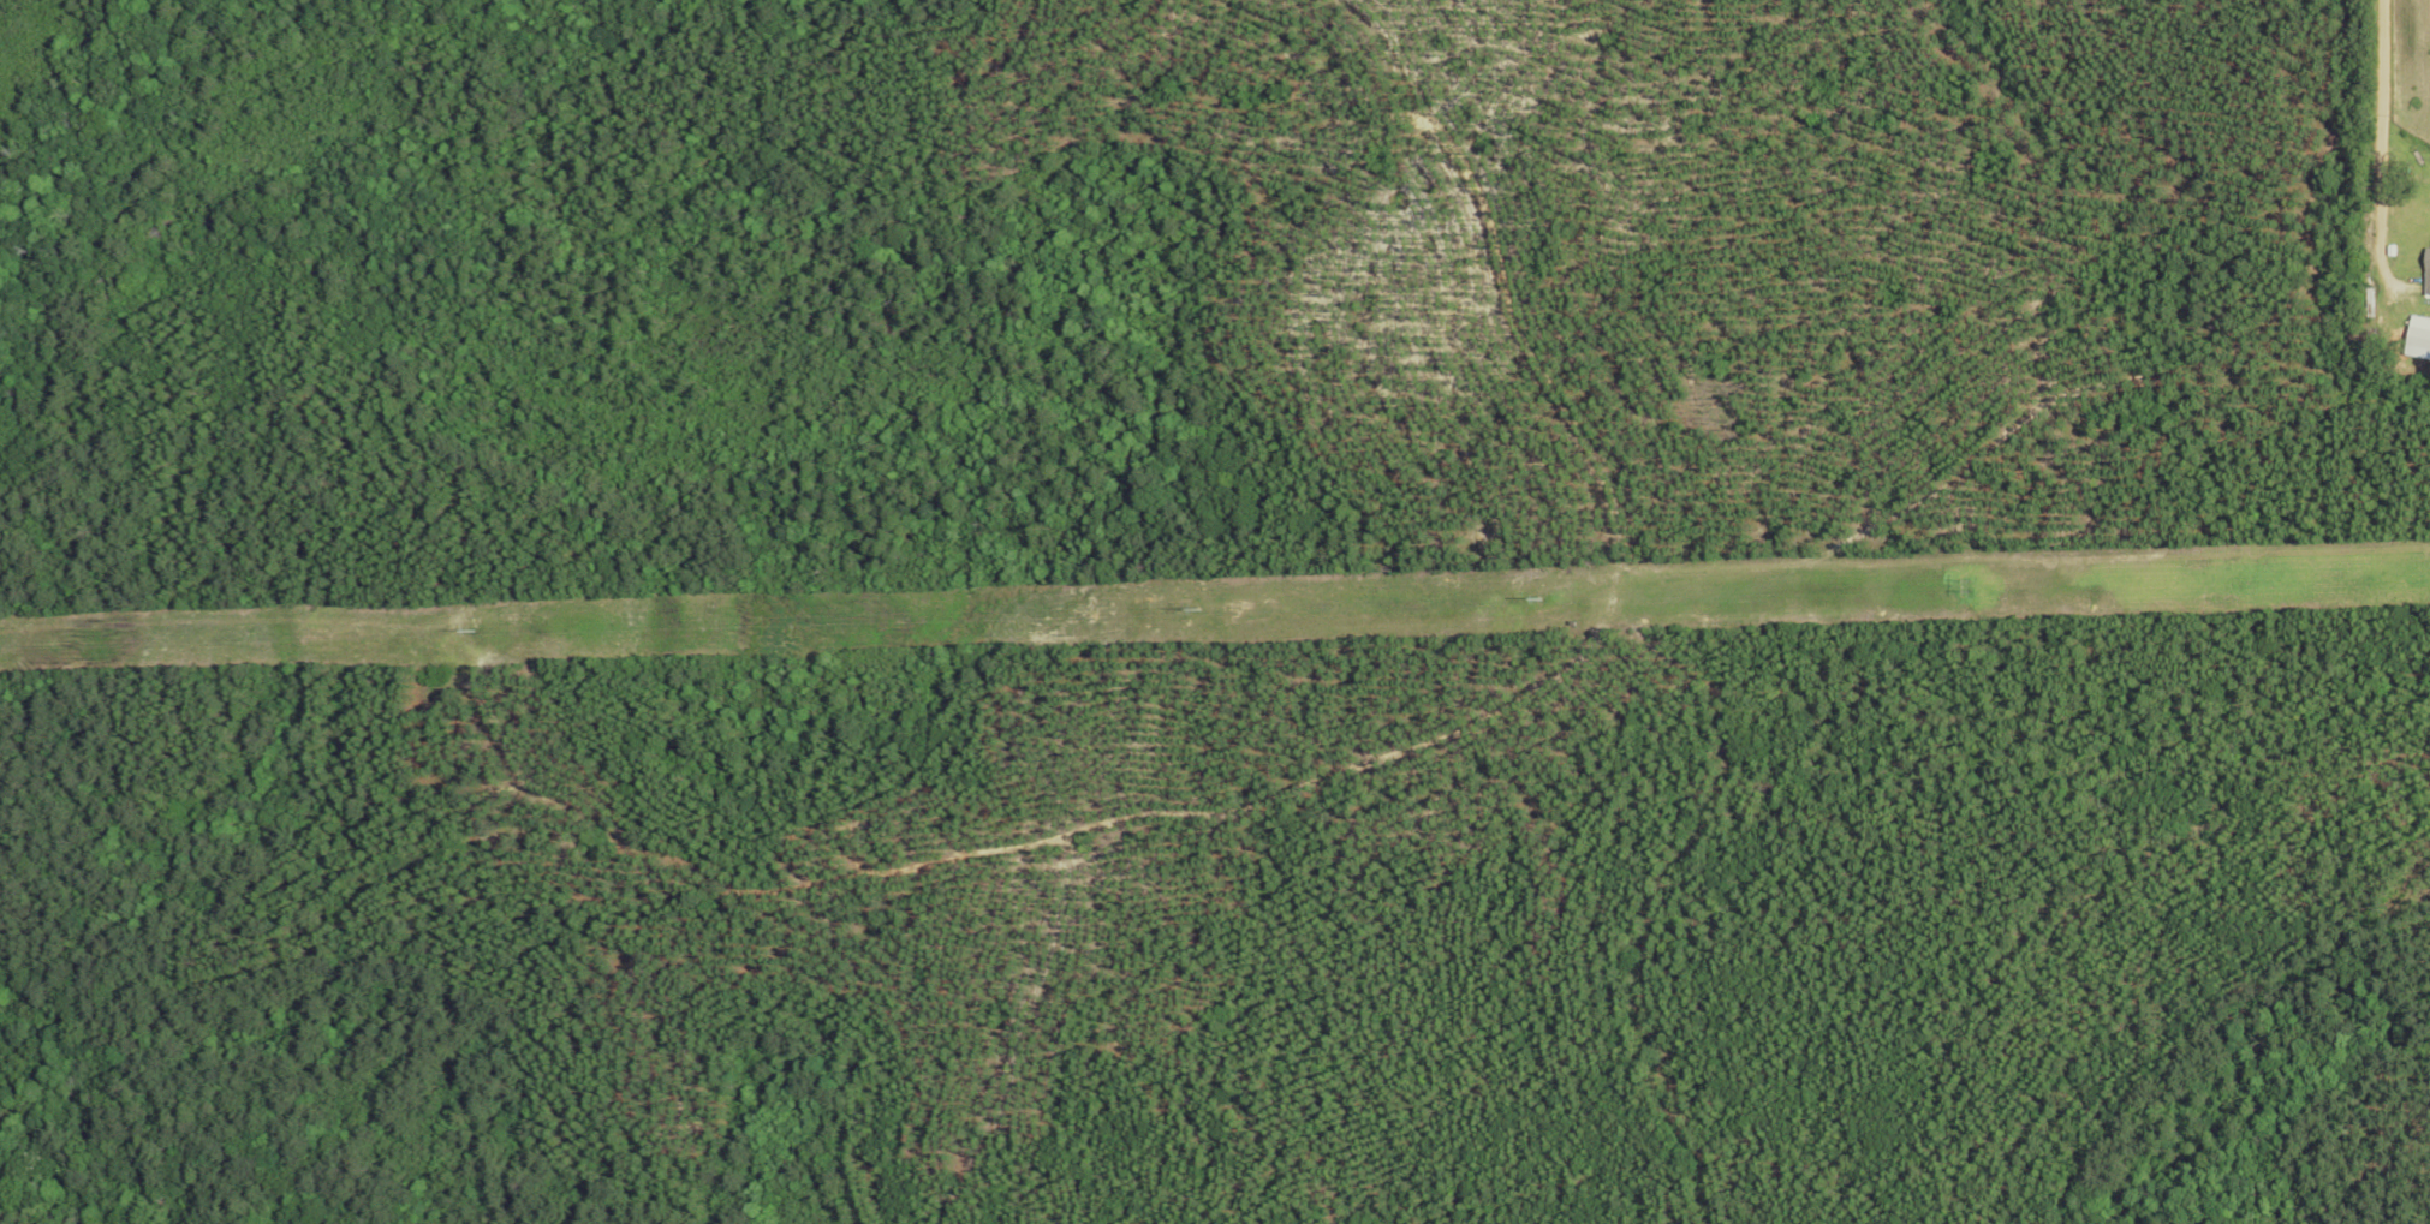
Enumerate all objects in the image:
road: (2377, 144)
building: (2425, 270)
building: (2417, 338)

